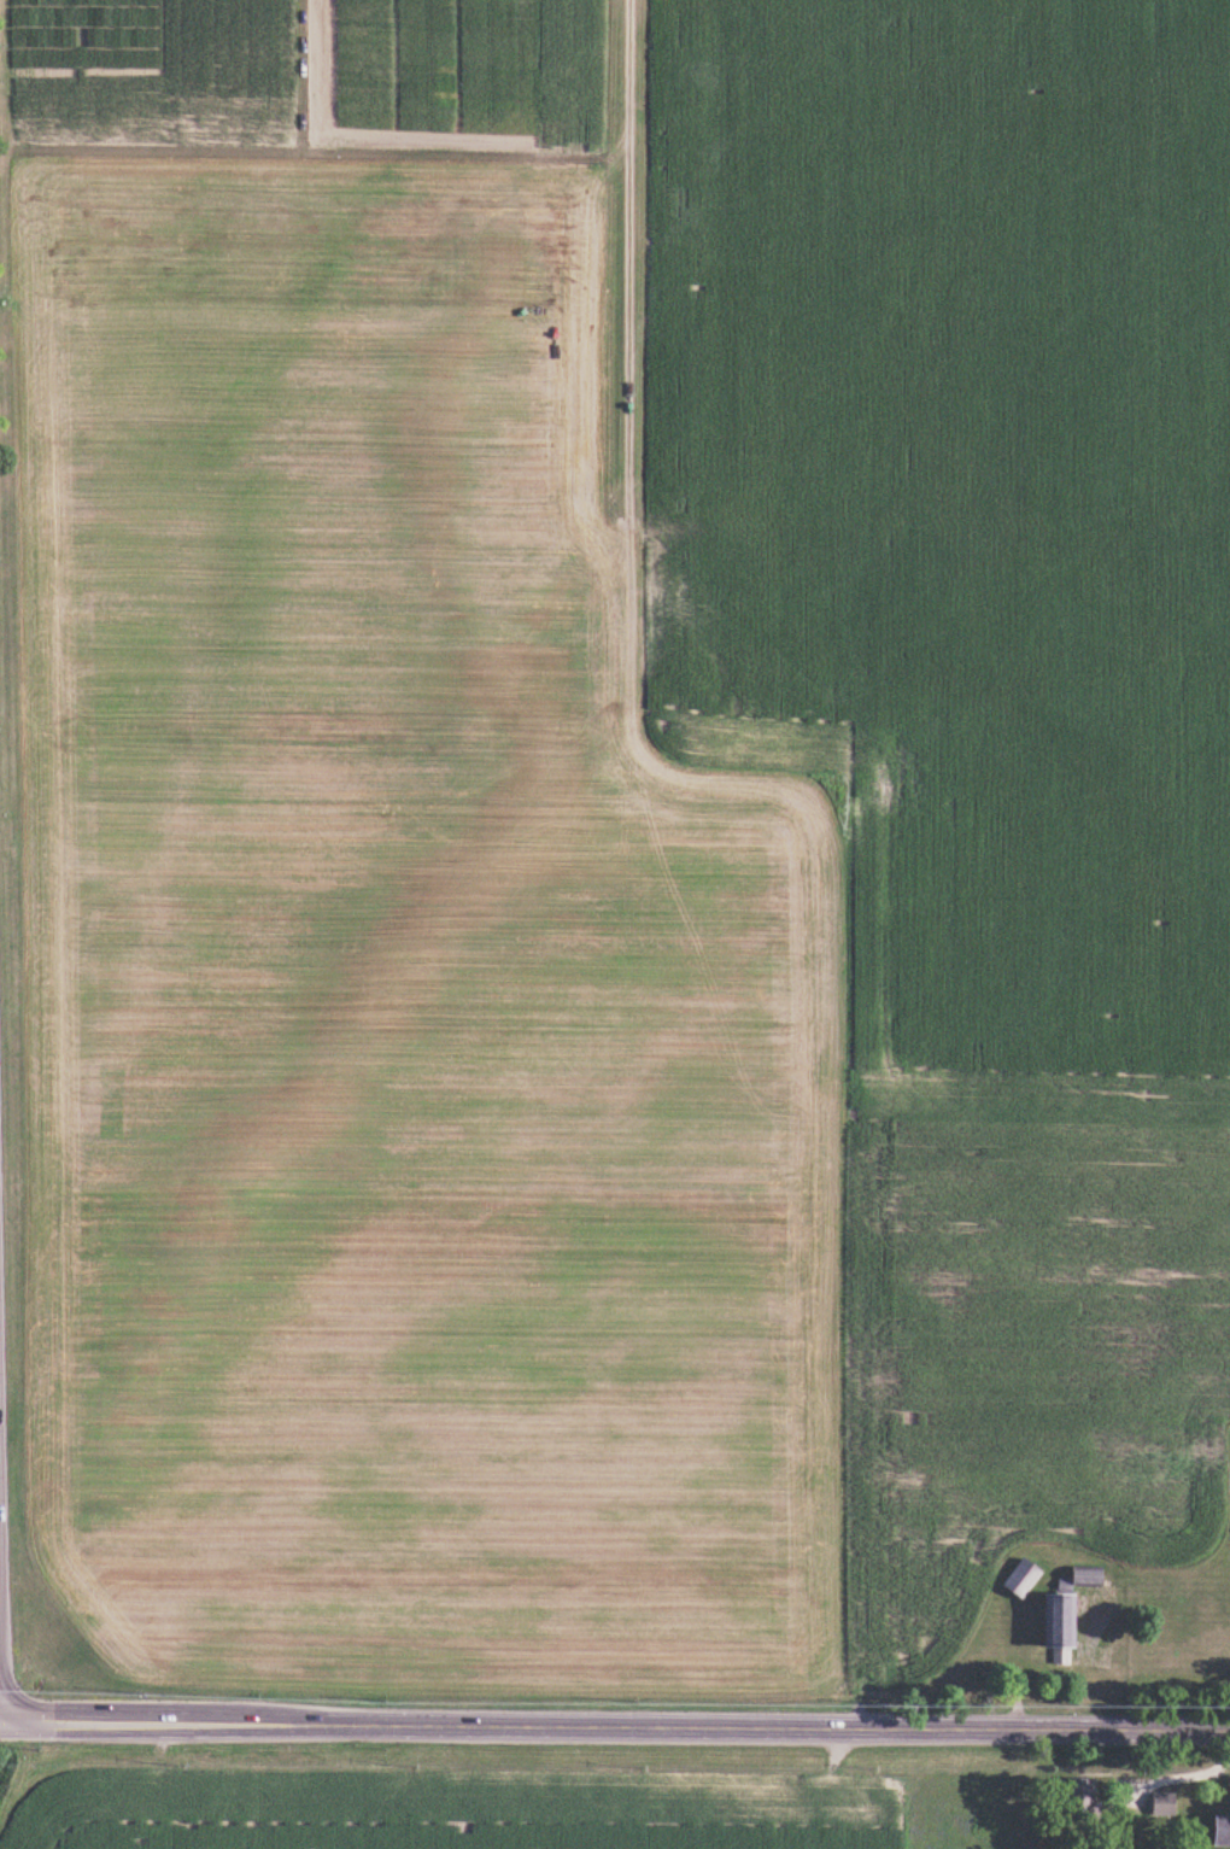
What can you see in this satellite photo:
crop: (84, 36)
crop: (428, 66)
crop: (563, 72)
crop: (175, 82)
crop: (959, 502)
road: (801, 800)
crop: (1023, 1356)
building: (1085, 1575)
building: (1020, 1576)
building: (1058, 1625)
road: (615, 1721)
building: (1079, 1797)
building: (1160, 1803)
crop: (450, 1812)
building: (1220, 1832)

